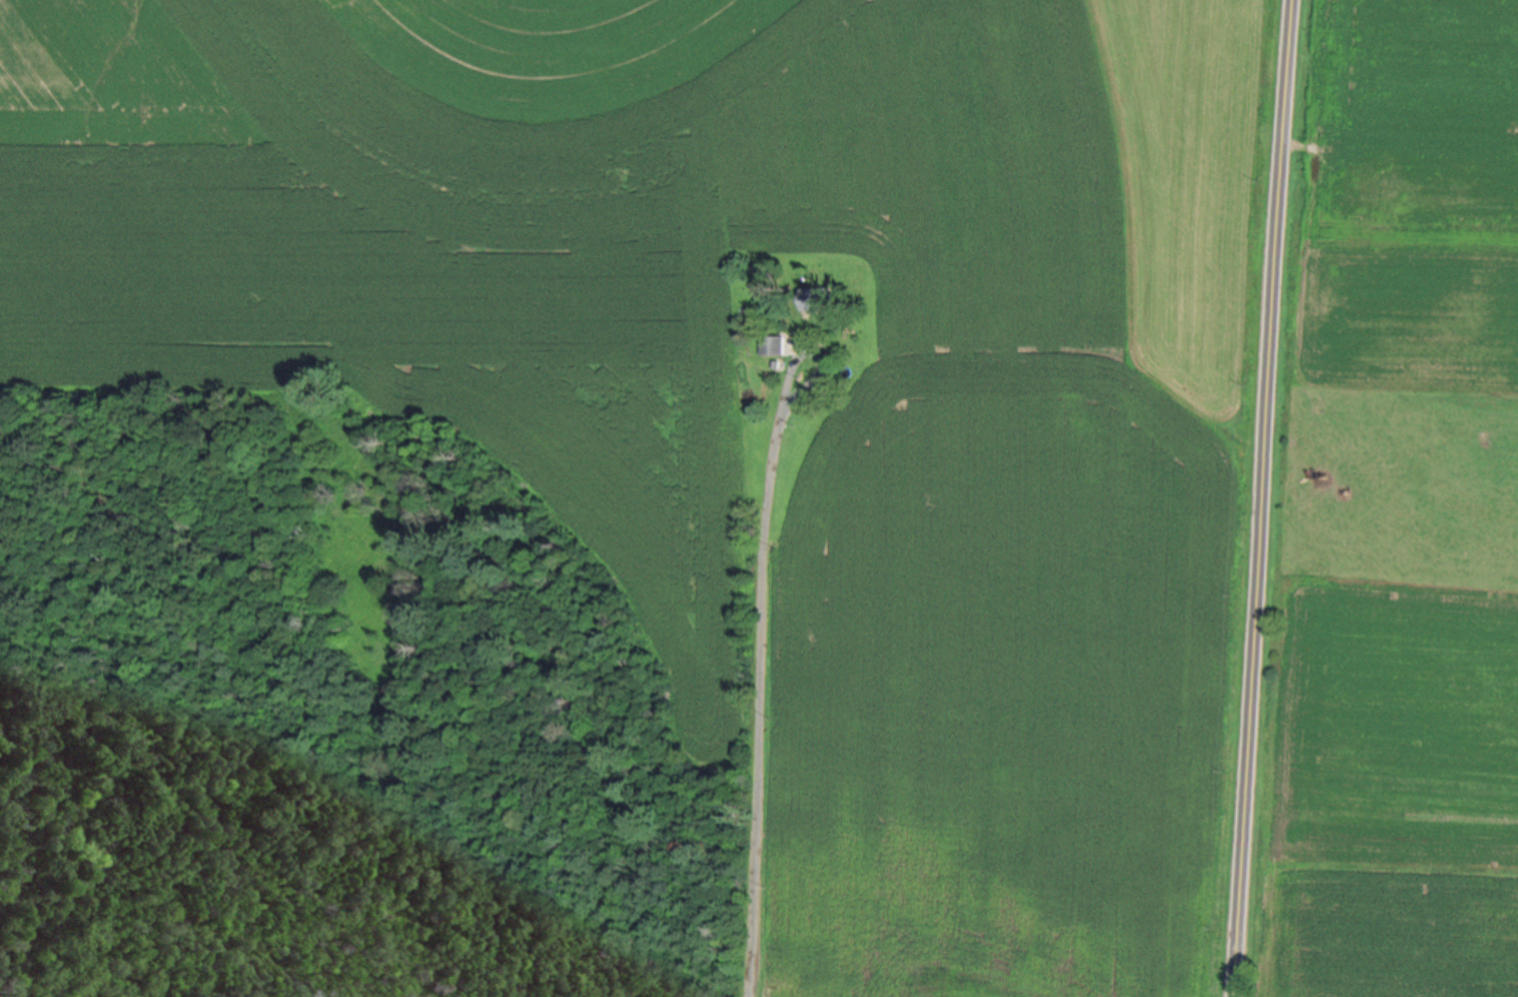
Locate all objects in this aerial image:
building: (815, 297)
building: (772, 343)
road: (1257, 498)
road: (750, 723)

